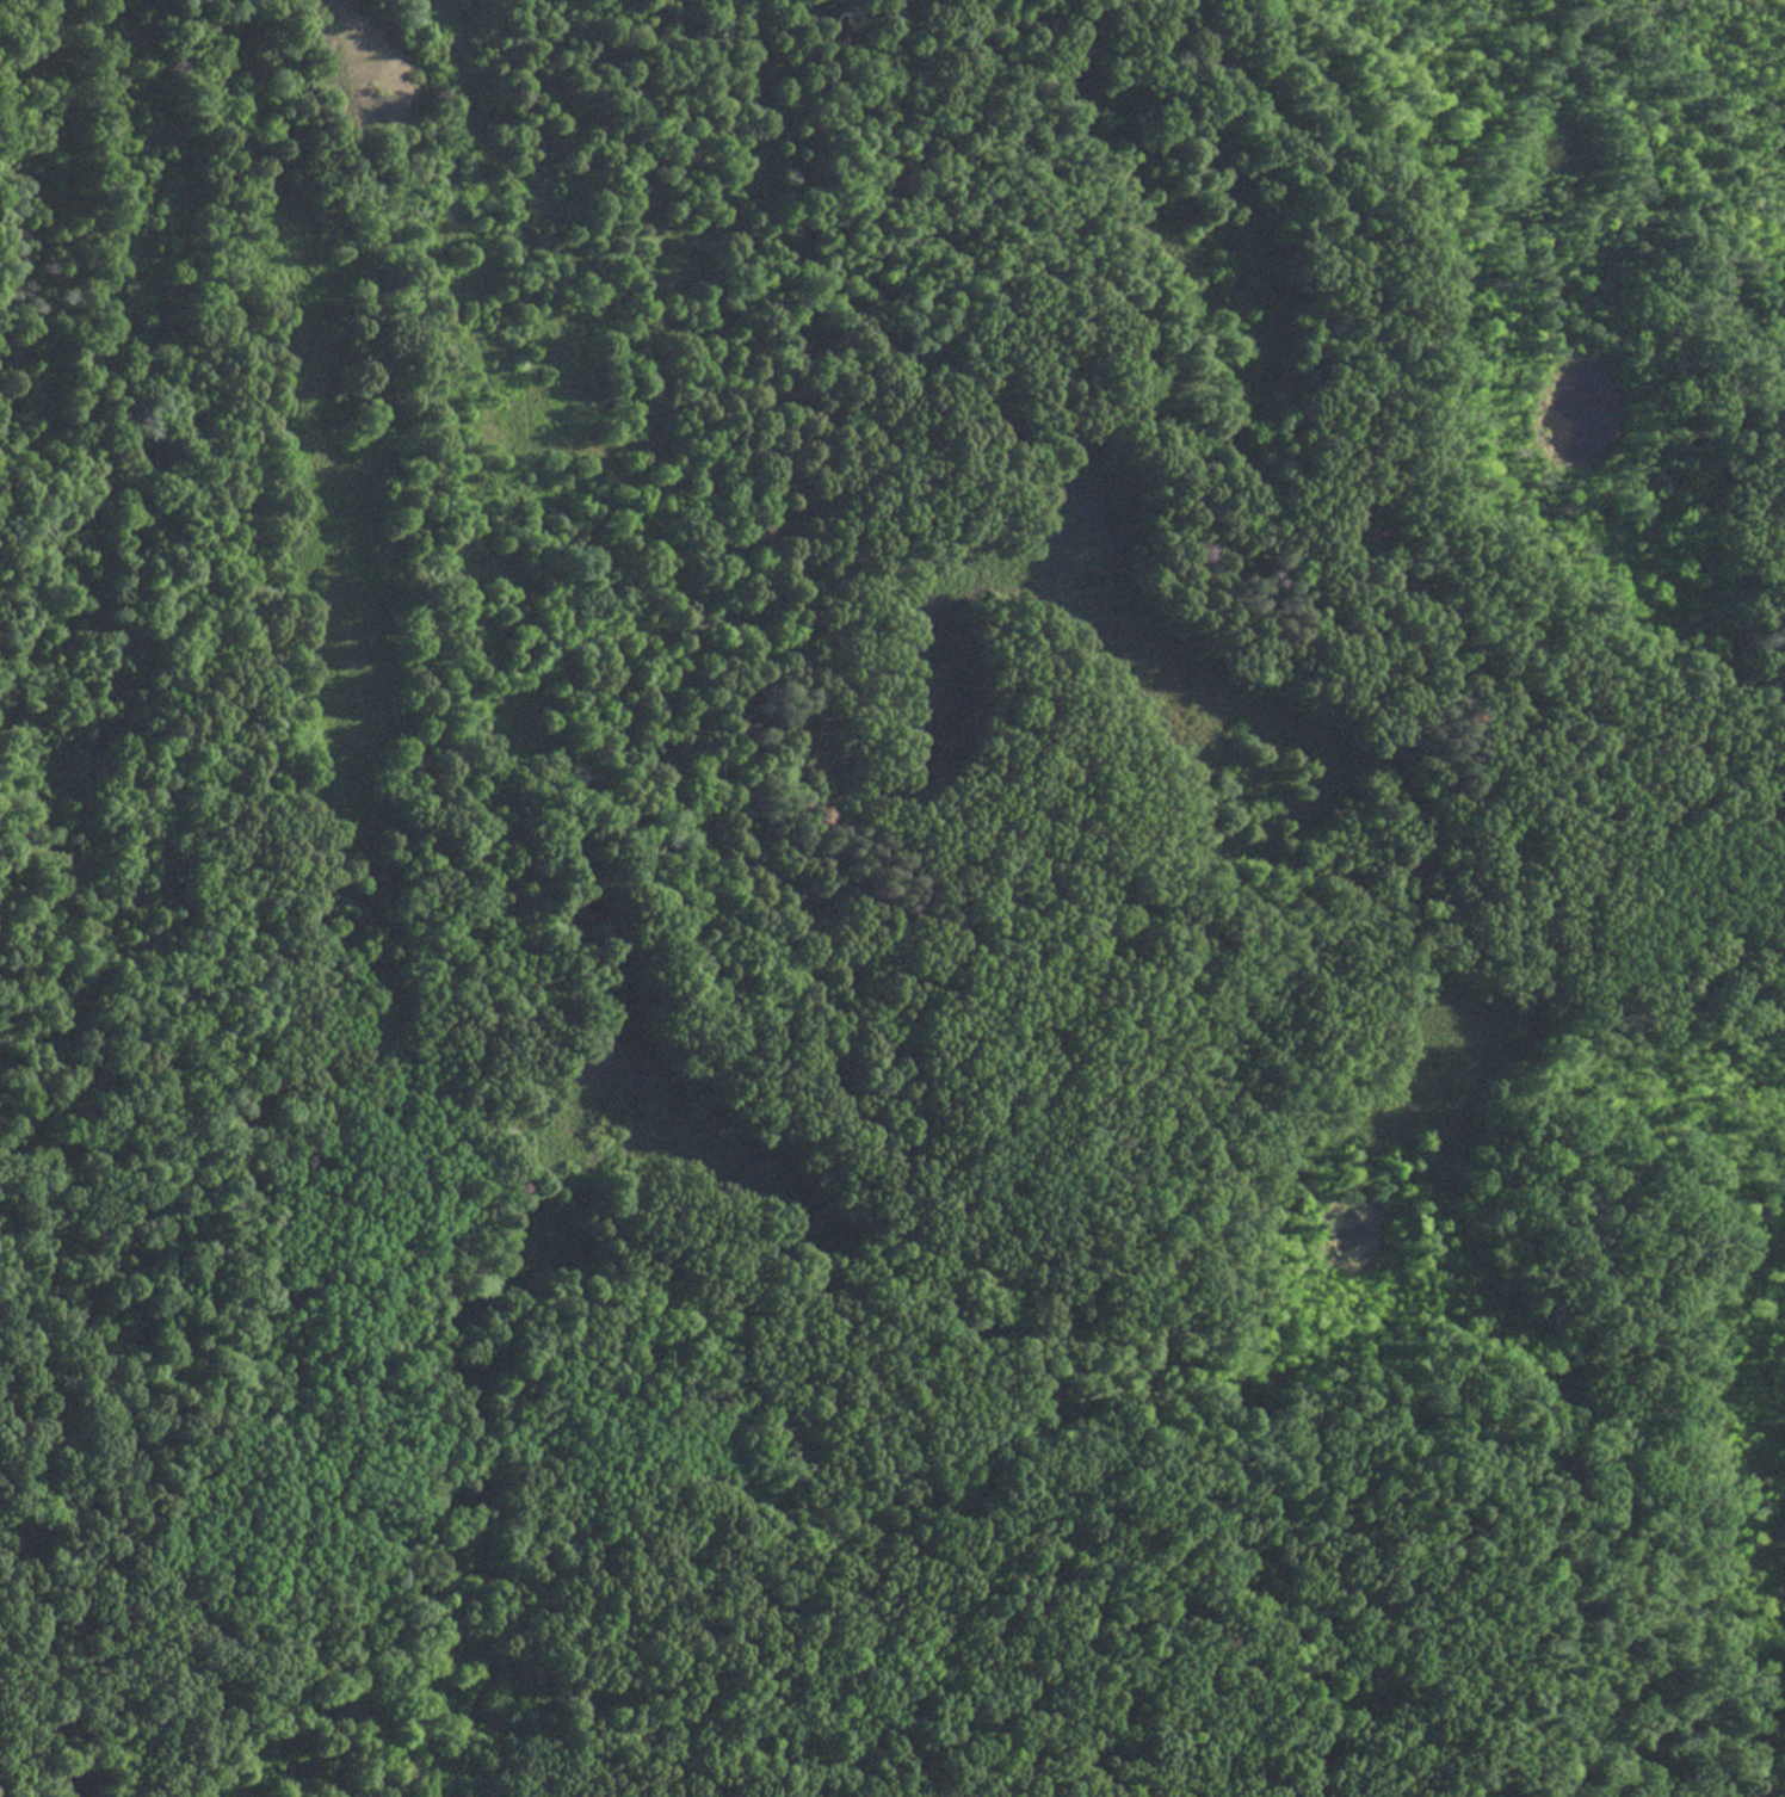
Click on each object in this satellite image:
road: (861, 26)
road: (1527, 762)
park: (892, 898)

